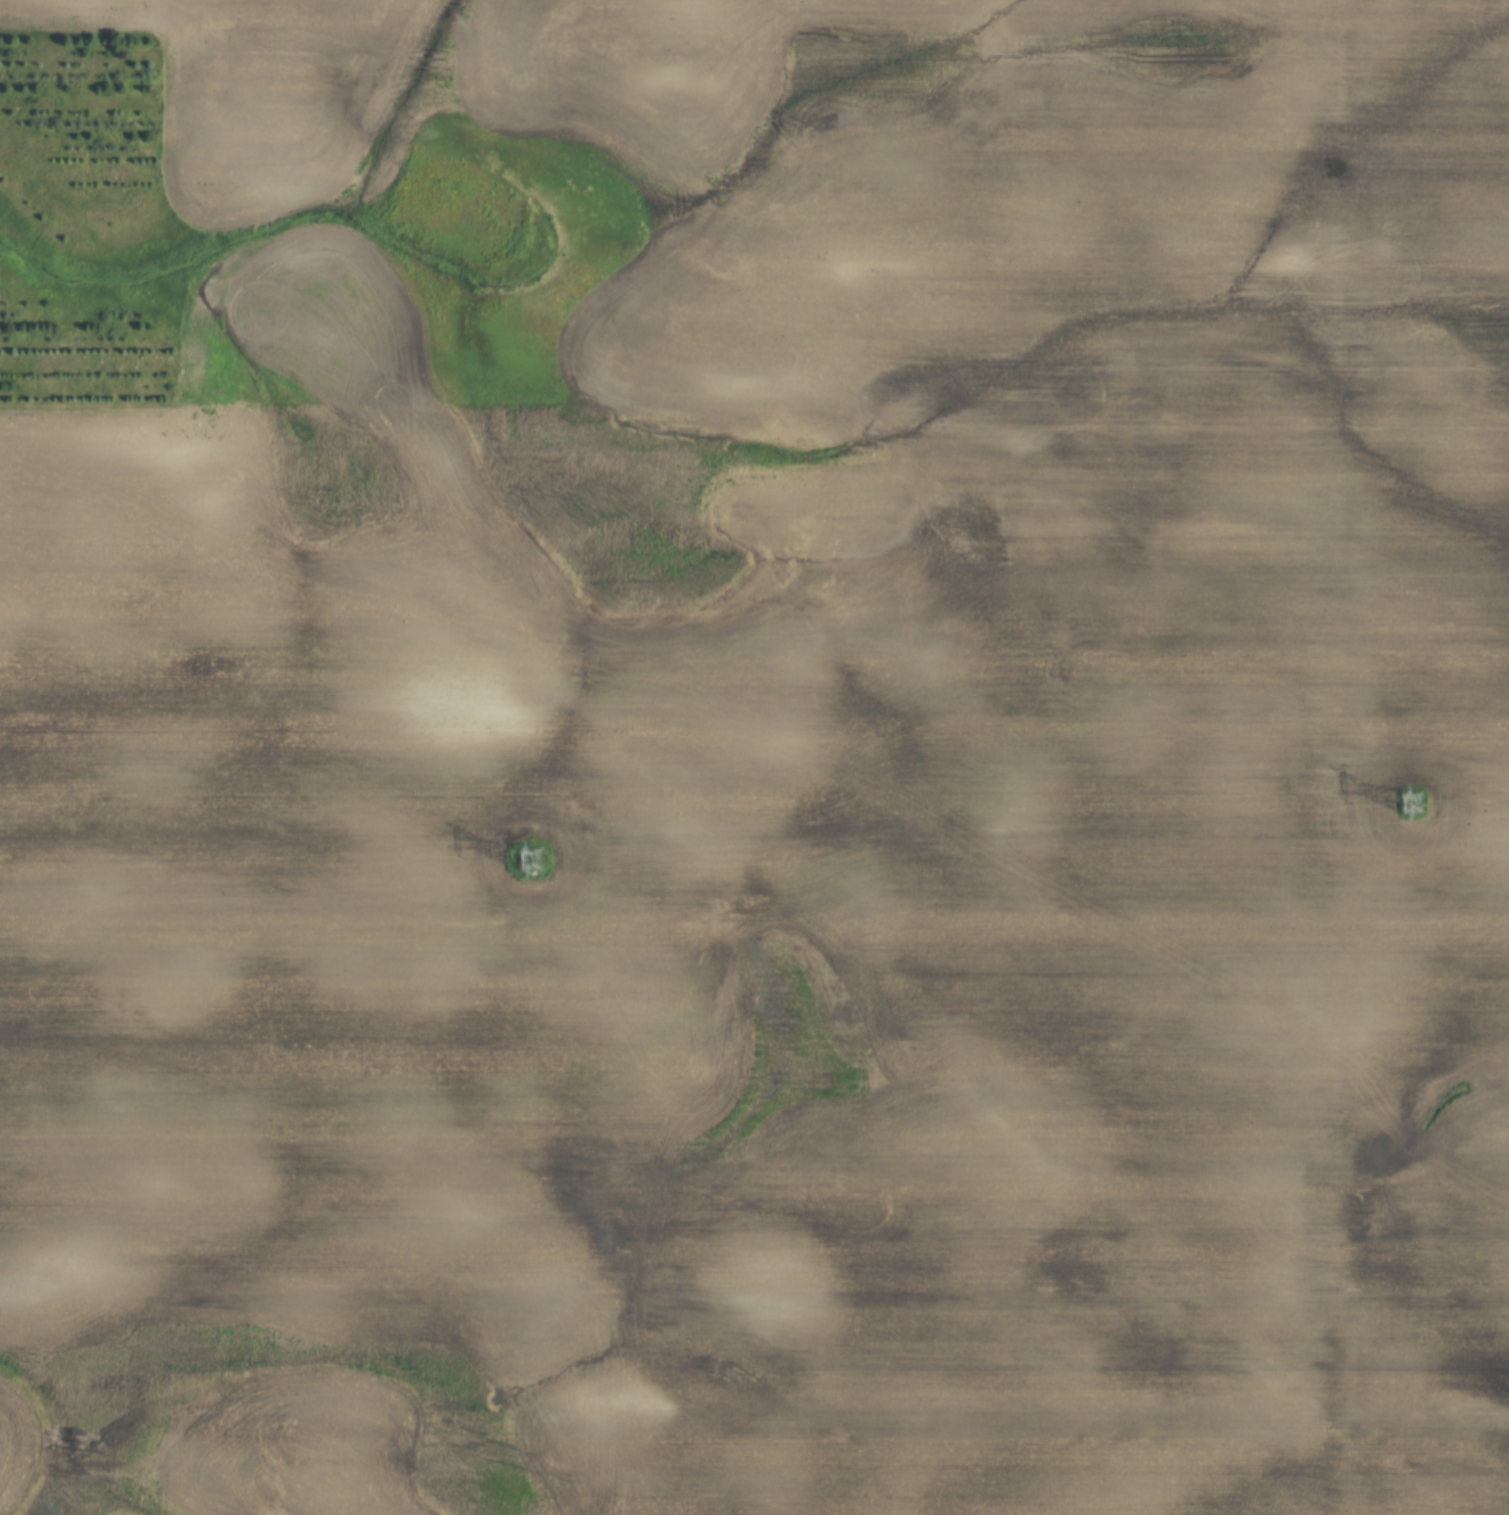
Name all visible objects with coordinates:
power tower: (1411, 802)
power tower: (534, 858)

